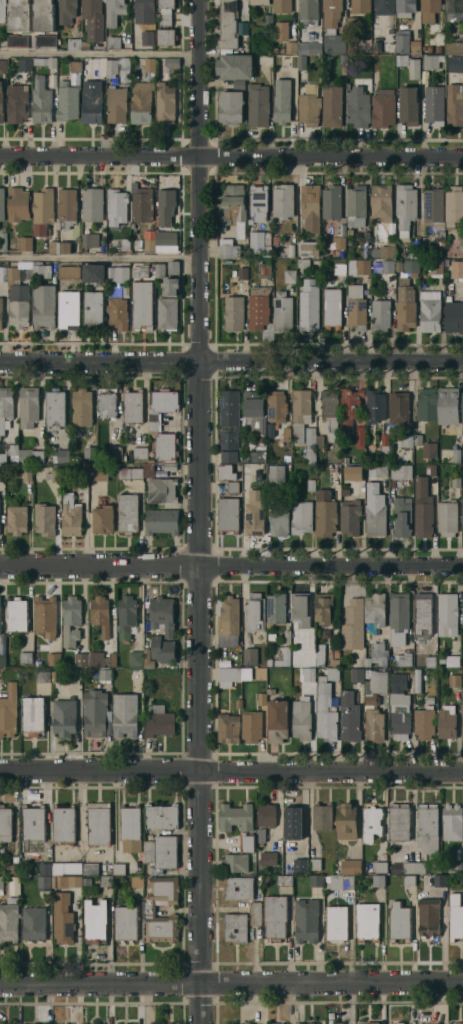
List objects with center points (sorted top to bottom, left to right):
building: (260, 2)
building: (282, 5)
building: (361, 6)
building: (385, 6)
building: (406, 7)
building: (166, 9)
building: (454, 9)
building: (3, 10)
building: (430, 10)
building: (67, 11)
building: (115, 11)
building: (144, 11)
building: (309, 12)
building: (20, 15)
building: (44, 15)
building: (94, 19)
building: (269, 20)
building: (166, 22)
building: (228, 24)
building: (355, 24)
building: (333, 27)
building: (282, 30)
building: (167, 36)
building: (148, 38)
building: (17, 40)
building: (45, 40)
building: (403, 41)
building: (114, 42)
building: (75, 43)
building: (352, 44)
building: (85, 45)
building: (416, 46)
building: (292, 47)
building: (315, 47)
building: (377, 47)
building: (454, 47)
building: (431, 49)
road: (100, 55)
building: (402, 60)
building: (462, 60)
building: (45, 61)
building: (431, 61)
building: (26, 64)
building: (173, 64)
building: (150, 65)
building: (3, 66)
building: (236, 66)
building: (112, 68)
building: (415, 68)
building: (239, 84)
building: (70, 93)
building: (400, 96)
building: (42, 101)
building: (283, 101)
building: (1, 102)
building: (92, 102)
building: (142, 102)
building: (166, 102)
building: (18, 103)
building: (117, 104)
building: (258, 104)
building: (455, 104)
building: (332, 105)
building: (409, 105)
building: (435, 105)
building: (232, 107)
building: (359, 107)
building: (384, 107)
building: (309, 108)
road: (231, 157)
building: (259, 198)
building: (284, 200)
building: (332, 202)
building: (382, 202)
building: (2, 203)
building: (19, 203)
building: (93, 204)
building: (143, 204)
building: (357, 205)
building: (117, 206)
building: (166, 206)
building: (311, 206)
building: (434, 206)
building: (67, 207)
building: (406, 207)
building: (454, 207)
building: (234, 208)
building: (43, 211)
building: (351, 232)
building: (159, 238)
building: (78, 239)
building: (91, 240)
building: (276, 240)
building: (3, 241)
building: (109, 241)
building: (261, 241)
building: (461, 241)
building: (338, 242)
building: (26, 243)
building: (126, 243)
building: (53, 246)
building: (64, 247)
building: (228, 248)
building: (309, 248)
building: (415, 249)
building: (367, 250)
building: (385, 250)
building: (406, 255)
road: (100, 259)
building: (304, 262)
building: (448, 262)
building: (25, 265)
building: (384, 265)
building: (412, 265)
building: (315, 266)
building: (359, 266)
building: (400, 266)
building: (174, 267)
building: (435, 267)
building: (264, 268)
building: (340, 268)
building: (457, 269)
building: (44, 270)
building: (161, 270)
building: (141, 271)
building: (69, 272)
building: (4, 273)
building: (13, 273)
building: (94, 273)
building: (243, 273)
building: (119, 274)
building: (291, 275)
building: (171, 286)
building: (376, 289)
building: (20, 305)
building: (45, 305)
building: (143, 305)
building: (309, 305)
building: (406, 305)
building: (259, 307)
building: (332, 307)
building: (357, 307)
building: (94, 308)
building: (118, 308)
building: (69, 309)
building: (283, 311)
building: (431, 311)
building: (1, 313)
building: (168, 313)
building: (234, 313)
building: (381, 314)
building: (454, 316)
road: (231, 361)
building: (107, 404)
building: (428, 404)
building: (375, 405)
building: (449, 405)
building: (30, 406)
building: (82, 406)
building: (134, 406)
building: (162, 406)
building: (277, 406)
building: (351, 406)
building: (6, 407)
building: (56, 407)
building: (330, 408)
building: (400, 408)
building: (462, 408)
building: (301, 413)
building: (230, 419)
building: (102, 420)
building: (256, 422)
building: (287, 431)
building: (360, 437)
building: (418, 439)
building: (407, 440)
building: (320, 441)
building: (385, 442)
building: (311, 445)
building: (166, 446)
building: (12, 449)
building: (430, 449)
building: (90, 451)
building: (116, 452)
building: (139, 453)
building: (31, 455)
building: (64, 455)
building: (456, 455)
building: (229, 456)
building: (170, 466)
building: (432, 468)
building: (149, 470)
building: (380, 470)
building: (85, 471)
building: (402, 471)
building: (226, 472)
building: (354, 472)
building: (54, 473)
building: (131, 473)
building: (2, 474)
building: (99, 474)
building: (28, 475)
building: (277, 475)
building: (456, 481)
building: (312, 484)
building: (234, 486)
building: (163, 490)
building: (424, 508)
road: (201, 511)
building: (255, 512)
building: (128, 513)
building: (326, 513)
building: (229, 514)
building: (72, 515)
building: (403, 516)
building: (302, 517)
building: (351, 517)
building: (376, 517)
building: (104, 518)
building: (280, 518)
building: (448, 518)
building: (18, 519)
building: (46, 519)
building: (162, 521)
road: (231, 567)
building: (325, 607)
building: (277, 608)
building: (376, 608)
building: (302, 609)
building: (255, 612)
building: (448, 612)
building: (18, 614)
building: (46, 614)
building: (101, 614)
building: (163, 614)
building: (424, 614)
building: (127, 615)
building: (0, 616)
building: (229, 616)
building: (400, 618)
building: (72, 619)
building: (354, 624)
building: (326, 632)
building: (288, 636)
building: (164, 649)
building: (283, 654)
building: (321, 654)
building: (379, 654)
building: (251, 655)
building: (26, 657)
building: (97, 658)
building: (54, 659)
building: (113, 659)
building: (137, 659)
building: (149, 659)
building: (405, 659)
building: (3, 660)
building: (82, 660)
building: (453, 660)
building: (429, 661)
building: (270, 662)
building: (336, 662)
building: (344, 669)
building: (334, 673)
building: (106, 674)
building: (309, 674)
building: (358, 674)
building: (229, 675)
building: (43, 676)
building: (418, 680)
building: (455, 680)
building: (399, 682)
building: (272, 691)
building: (263, 699)
building: (430, 699)
building: (239, 702)
building: (375, 705)
building: (9, 710)
building: (326, 711)
building: (96, 712)
building: (34, 715)
building: (126, 715)
building: (400, 716)
building: (65, 717)
building: (303, 719)
building: (278, 720)
building: (160, 721)
building: (425, 722)
building: (448, 722)
building: (351, 723)
building: (462, 723)
building: (252, 726)
building: (229, 727)
road: (231, 772)
building: (267, 815)
building: (162, 816)
building: (236, 816)
building: (323, 816)
building: (347, 821)
building: (400, 821)
building: (131, 822)
building: (294, 822)
building: (453, 822)
building: (5, 823)
building: (64, 823)
building: (99, 823)
building: (372, 823)
building: (34, 827)
building: (429, 828)
building: (261, 835)
building: (248, 843)
building: (261, 844)
building: (149, 851)
building: (166, 851)
building: (268, 858)
building: (236, 862)
building: (316, 863)
building: (301, 864)
building: (352, 866)
building: (381, 866)
building: (456, 866)
building: (67, 867)
building: (409, 867)
building: (421, 867)
building: (45, 868)
building: (91, 868)
building: (120, 868)
building: (12, 869)
building: (18, 877)
building: (267, 879)
building: (87, 880)
building: (106, 880)
building: (285, 880)
building: (317, 880)
building: (379, 880)
building: (409, 880)
building: (440, 880)
building: (67, 881)
building: (137, 881)
building: (340, 881)
building: (2, 882)
building: (44, 883)
building: (13, 888)
building: (239, 888)
building: (150, 909)
building: (255, 912)
building: (456, 916)
building: (276, 917)
building: (429, 917)
building: (63, 918)
building: (307, 920)
building: (96, 921)
building: (368, 921)
building: (400, 921)
building: (337, 922)
building: (9, 923)
building: (34, 923)
building: (126, 923)
building: (237, 927)
road: (231, 982)
building: (372, 1022)
building: (66, 1023)
building: (96, 1023)
building: (126, 1023)
building: (153, 1023)
building: (171, 1023)
building: (233, 1023)
building: (250, 1023)
building: (278, 1023)
building: (309, 1023)
building: (339, 1023)
building: (397, 1023)
building: (432, 1023)
building: (438, 1023)
building: (460, 1023)

